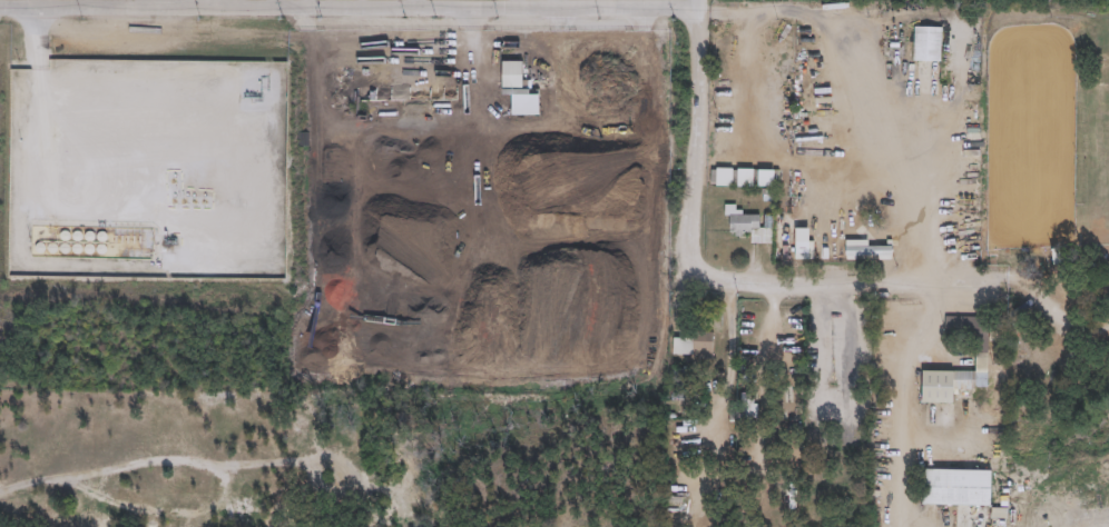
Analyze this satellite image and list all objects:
road: (46, 3)
road: (413, 3)
road: (512, 3)
road: (557, 3)
road: (696, 3)
road: (271, 4)
road: (306, 4)
road: (483, 8)
building: (928, 42)
building: (513, 73)
building: (743, 176)
building: (747, 222)
building: (867, 230)
building: (1058, 256)
road: (718, 272)
building: (1108, 276)
building: (694, 344)
building: (838, 345)
building: (982, 351)
road: (730, 368)
building: (786, 369)
road: (905, 402)
building: (958, 486)
building: (671, 499)
building: (791, 501)

